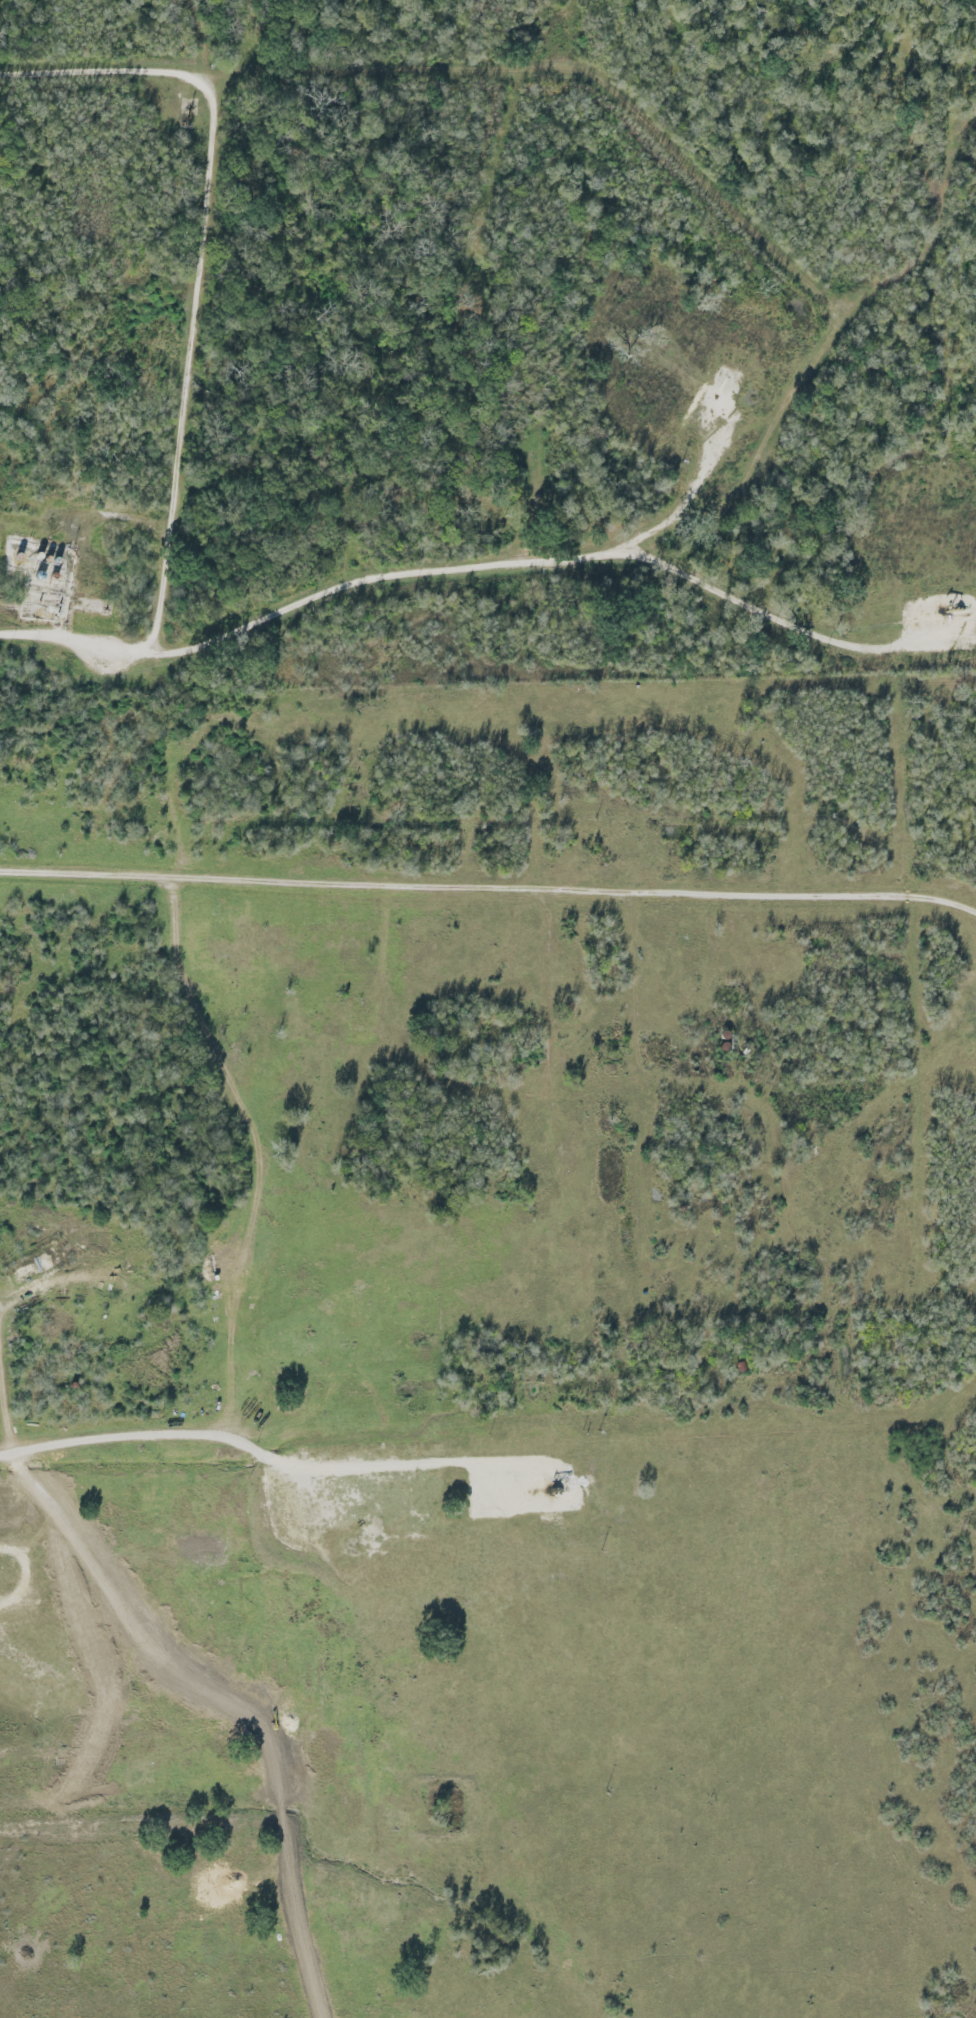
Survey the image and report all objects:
road: (828, 329)
road: (192, 366)
road: (489, 891)
road: (250, 1450)
road: (5, 1458)
road: (239, 1697)

